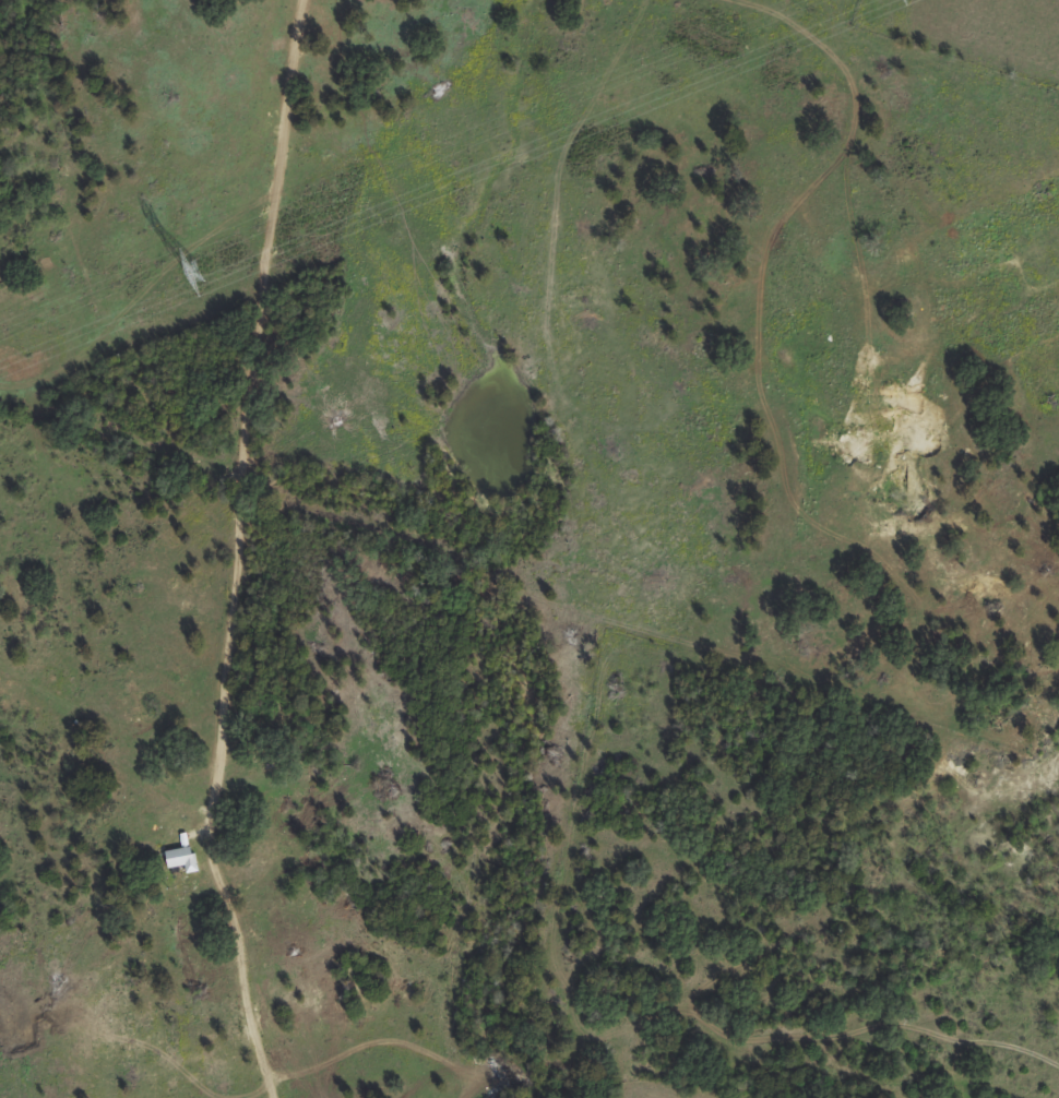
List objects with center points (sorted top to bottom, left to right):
power tower: (205, 265)
road: (233, 551)
building: (180, 858)

